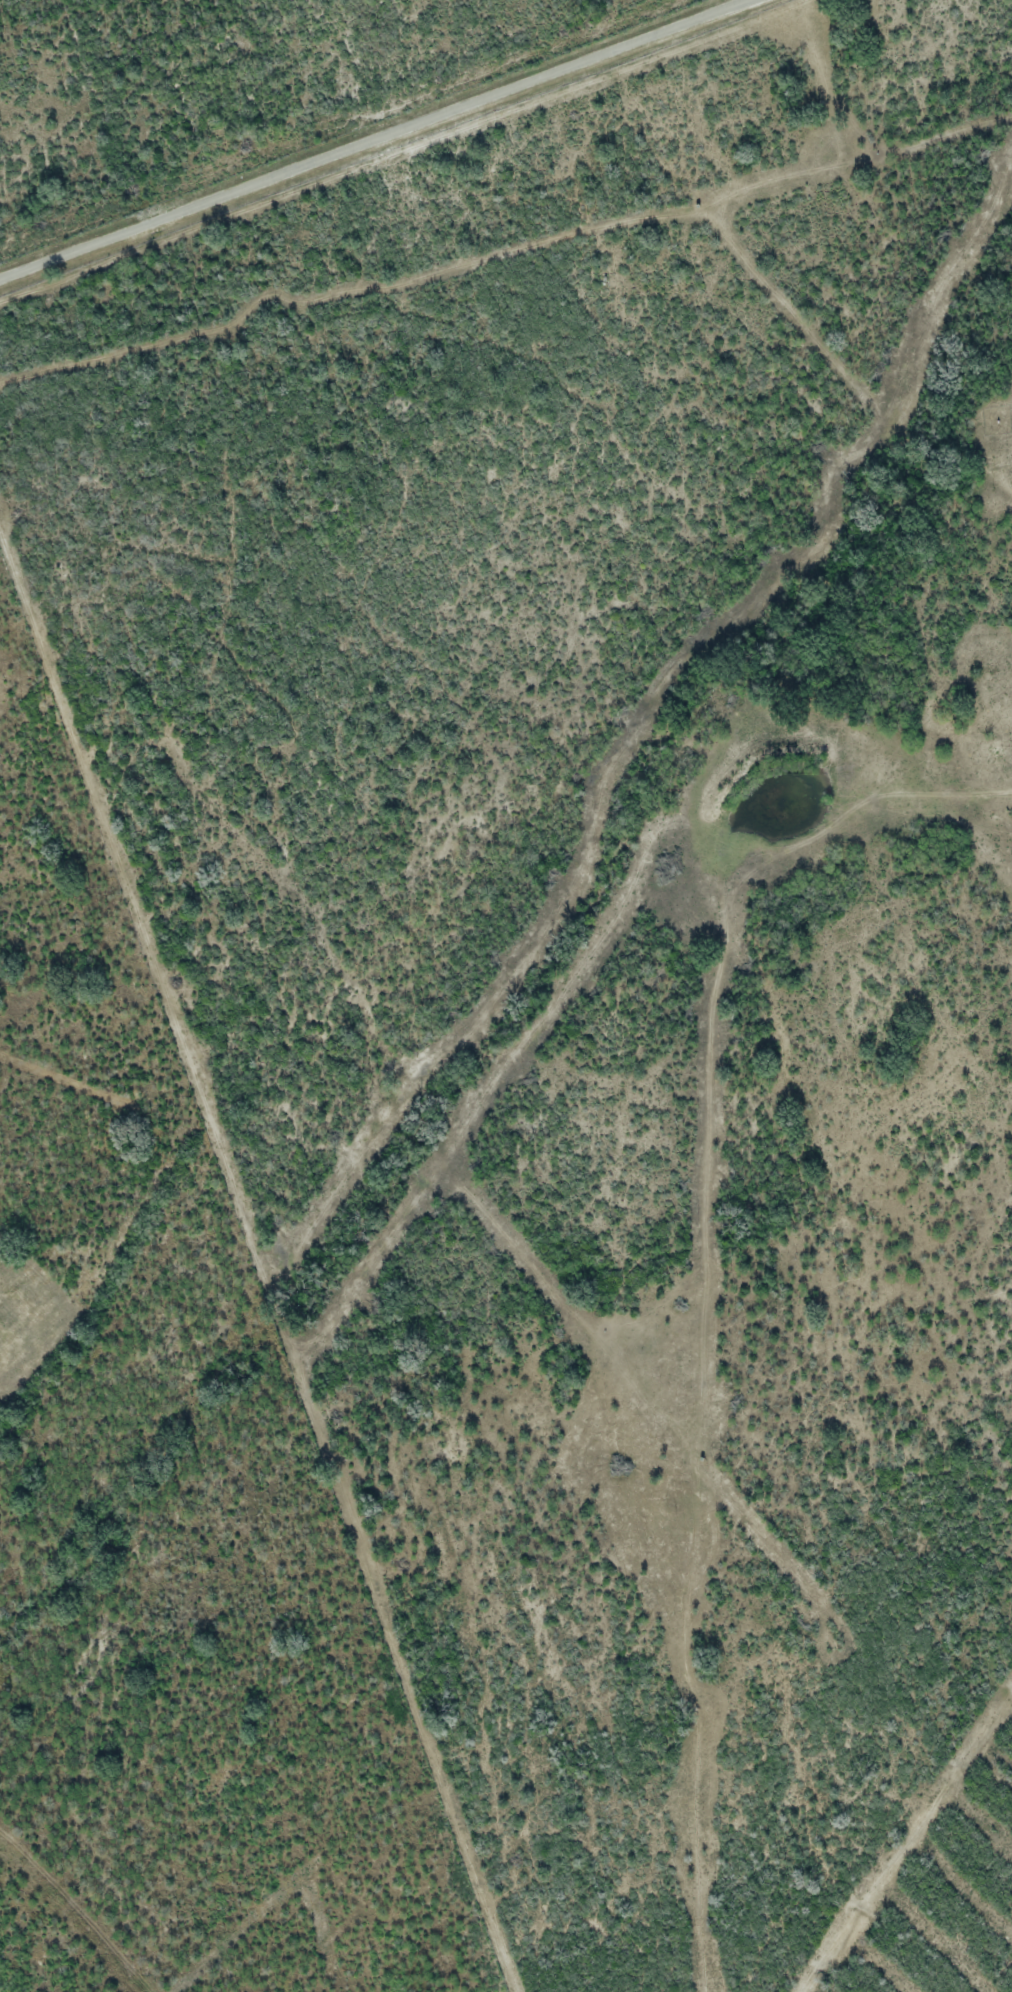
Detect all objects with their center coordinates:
road: (378, 141)

